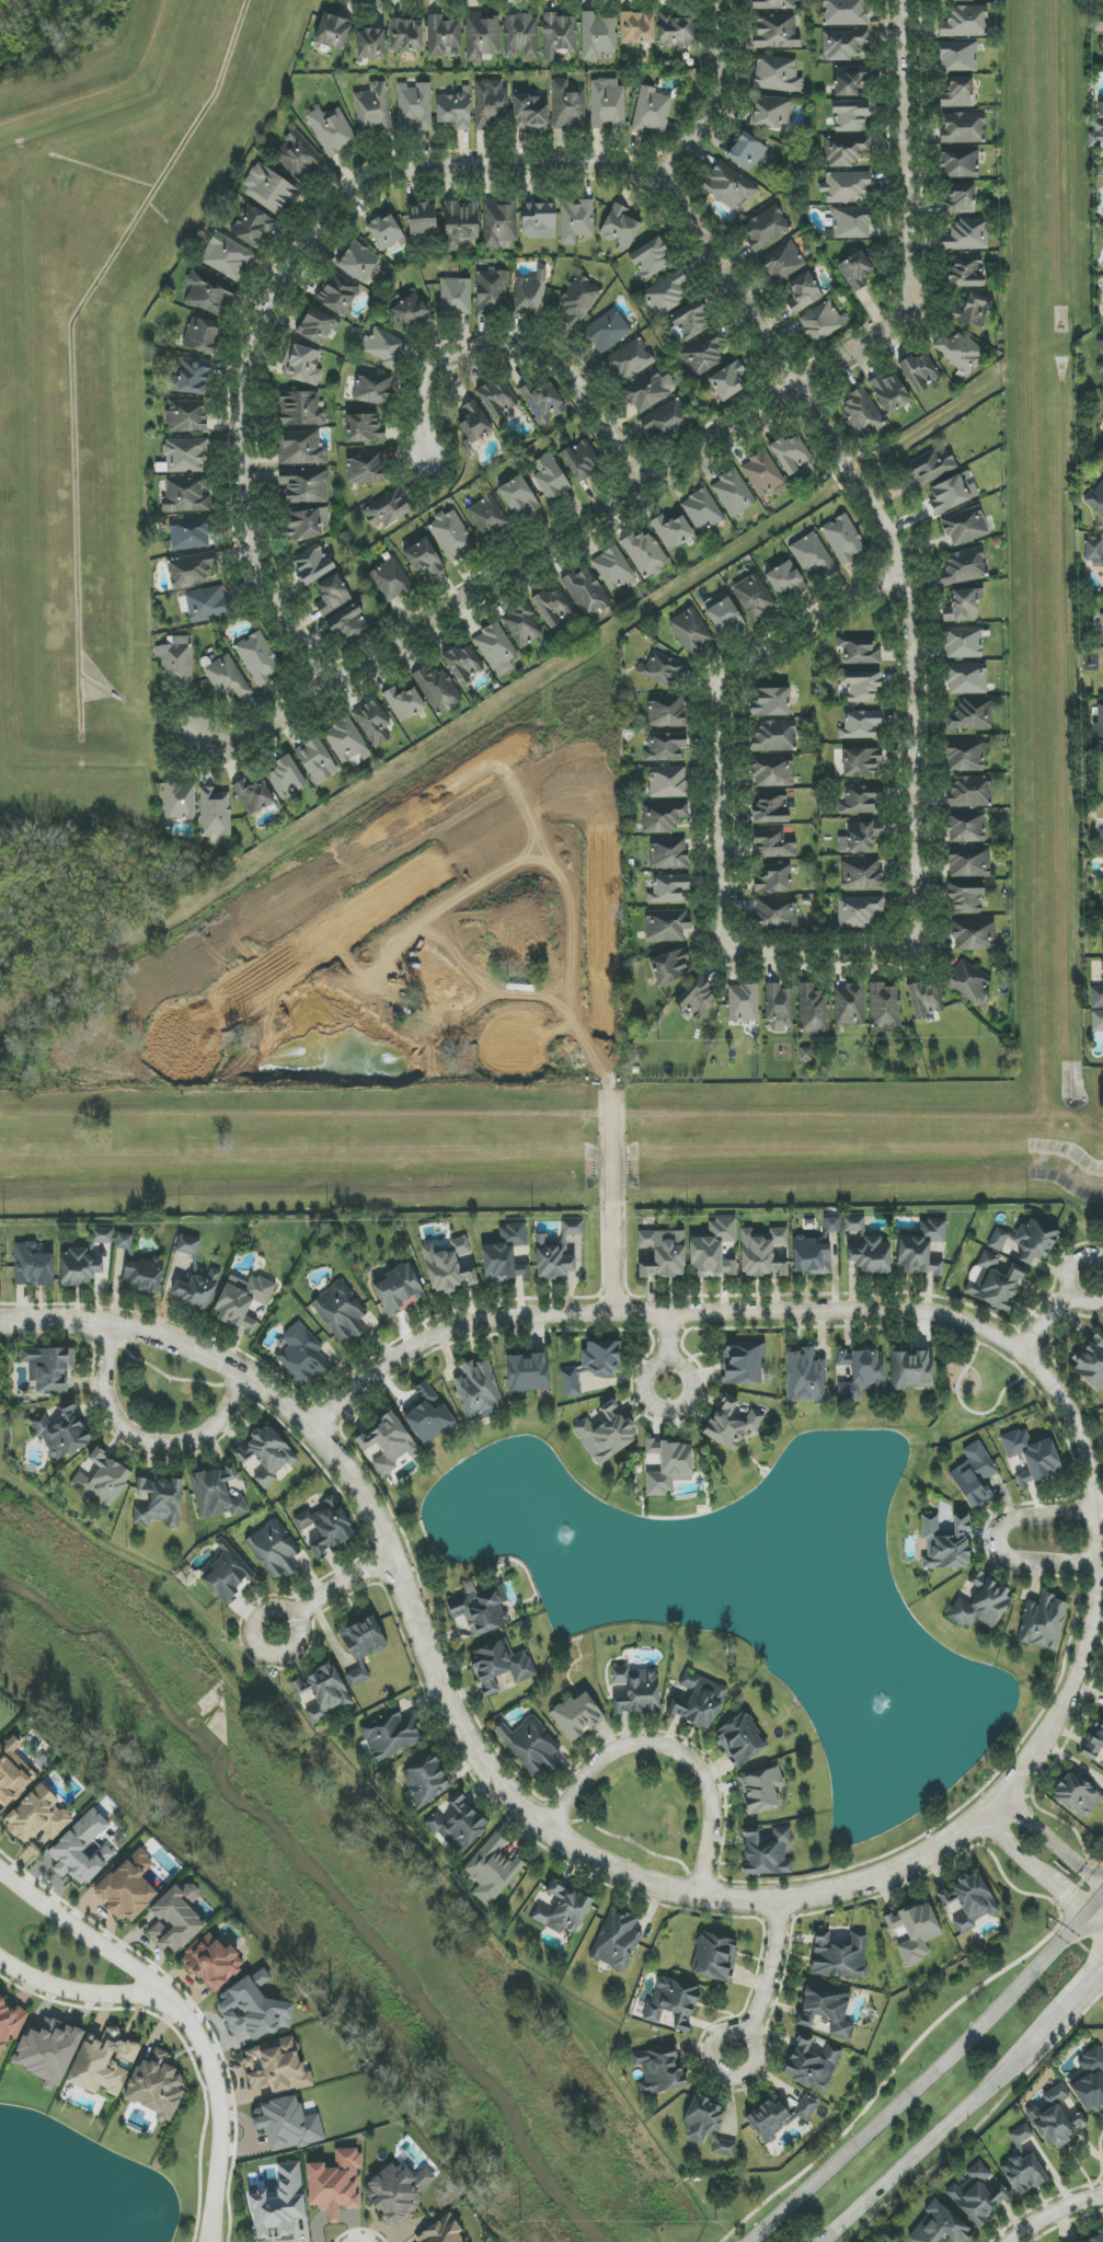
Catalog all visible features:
building: (958, 0)
building: (774, 4)
building: (845, 12)
building: (965, 22)
building: (636, 28)
building: (333, 31)
building: (675, 31)
building: (775, 31)
building: (406, 35)
building: (559, 35)
building: (444, 36)
building: (482, 36)
building: (521, 36)
building: (597, 36)
building: (370, 44)
building: (845, 44)
building: (958, 56)
building: (777, 74)
building: (849, 79)
building: (958, 93)
building: (607, 103)
building: (491, 104)
building: (567, 105)
building: (415, 106)
building: (374, 108)
building: (455, 110)
road: (723, 110)
building: (1100, 110)
building: (530, 112)
building: (651, 112)
building: (771, 112)
building: (850, 115)
building: (963, 127)
building: (332, 130)
building: (1096, 134)
building: (846, 150)
building: (746, 151)
building: (296, 159)
building: (961, 162)
road: (474, 184)
building: (729, 186)
building: (846, 186)
building: (269, 189)
building: (960, 199)
building: (422, 219)
building: (537, 219)
building: (576, 221)
building: (849, 222)
building: (498, 223)
building: (252, 225)
building: (461, 225)
building: (619, 227)
building: (766, 228)
building: (386, 233)
building: (967, 234)
building: (228, 256)
building: (651, 257)
building: (783, 261)
building: (358, 262)
building: (857, 268)
building: (966, 272)
building: (492, 291)
building: (803, 292)
building: (337, 294)
building: (530, 294)
building: (666, 294)
building: (456, 296)
building: (208, 297)
building: (577, 300)
building: (409, 310)
building: (972, 311)
building: (691, 321)
building: (820, 322)
building: (315, 327)
building: (608, 331)
building: (200, 335)
road: (528, 345)
building: (383, 346)
building: (704, 353)
building: (961, 353)
building: (1100, 353)
building: (630, 360)
building: (302, 365)
building: (921, 370)
building: (192, 377)
building: (728, 380)
building: (374, 389)
building: (650, 390)
building: (889, 392)
building: (496, 399)
building: (543, 402)
building: (301, 410)
building: (861, 413)
building: (186, 416)
building: (474, 422)
building: (667, 422)
building: (364, 428)
building: (302, 448)
building: (791, 453)
building: (185, 455)
road: (680, 460)
building: (578, 461)
building: (932, 467)
building: (365, 468)
building: (763, 475)
building: (550, 478)
building: (305, 485)
building: (733, 493)
building: (953, 493)
building: (185, 495)
building: (518, 496)
building: (1096, 498)
building: (386, 509)
building: (703, 510)
building: (487, 517)
building: (306, 524)
building: (965, 526)
building: (673, 531)
building: (189, 533)
building: (452, 536)
building: (843, 539)
building: (1094, 552)
building: (646, 554)
building: (423, 556)
building: (814, 556)
building: (312, 564)
building: (964, 567)
building: (613, 568)
building: (191, 570)
building: (785, 579)
building: (391, 580)
building: (586, 591)
building: (332, 595)
building: (752, 598)
building: (206, 603)
building: (963, 605)
building: (551, 606)
building: (1102, 614)
building: (724, 617)
building: (348, 624)
building: (521, 626)
building: (691, 633)
building: (963, 642)
building: (496, 648)
building: (859, 651)
building: (258, 658)
building: (176, 662)
building: (462, 664)
building: (665, 669)
building: (227, 678)
building: (966, 679)
building: (862, 686)
building: (438, 690)
building: (771, 702)
building: (404, 703)
building: (666, 711)
road: (716, 713)
building: (970, 715)
building: (374, 723)
building: (860, 724)
building: (1099, 725)
building: (774, 736)
building: (347, 741)
building: (666, 747)
building: (966, 755)
building: (317, 760)
building: (861, 761)
building: (772, 771)
building: (286, 777)
building: (668, 782)
building: (970, 791)
building: (253, 796)
building: (860, 798)
building: (179, 803)
building: (772, 807)
building: (215, 812)
building: (663, 816)
building: (966, 826)
building: (860, 837)
building: (773, 843)
building: (669, 853)
road: (916, 858)
building: (969, 862)
building: (861, 873)
building: (774, 878)
building: (669, 888)
building: (859, 910)
building: (777, 913)
building: (1101, 916)
building: (666, 925)
building: (974, 935)
building: (1102, 946)
building: (669, 967)
building: (966, 982)
building: (1098, 994)
building: (698, 998)
building: (926, 1001)
building: (744, 1003)
building: (779, 1005)
building: (850, 1005)
building: (884, 1007)
building: (813, 1010)
building: (1096, 1020)
building: (805, 1054)
road: (612, 1203)
building: (572, 1228)
building: (102, 1235)
building: (124, 1241)
building: (998, 1241)
building: (1035, 1241)
building: (921, 1248)
building: (868, 1249)
building: (713, 1250)
building: (817, 1251)
building: (663, 1253)
building: (762, 1253)
building: (505, 1254)
building: (553, 1260)
building: (33, 1266)
building: (448, 1266)
building: (79, 1267)
building: (142, 1275)
building: (195, 1279)
building: (995, 1280)
building: (398, 1288)
building: (242, 1301)
road: (749, 1311)
road: (1058, 1311)
building: (338, 1312)
road: (927, 1325)
road: (669, 1349)
building: (300, 1354)
building: (1091, 1361)
building: (742, 1363)
building: (591, 1365)
building: (48, 1368)
building: (911, 1370)
building: (862, 1372)
building: (528, 1373)
building: (805, 1377)
building: (478, 1390)
road: (967, 1409)
building: (429, 1417)
building: (732, 1423)
building: (606, 1434)
road: (133, 1441)
building: (387, 1444)
building: (266, 1455)
building: (1031, 1456)
building: (669, 1467)
building: (975, 1475)
building: (102, 1481)
building: (218, 1493)
building: (160, 1503)
road: (1099, 1510)
building: (326, 1526)
road: (997, 1541)
building: (945, 1543)
building: (273, 1550)
fountain: (582, 1562)
building: (226, 1578)
road: (336, 1589)
building: (981, 1605)
building: (480, 1611)
building: (1043, 1622)
building: (361, 1645)
building: (499, 1666)
building: (324, 1691)
building: (636, 1691)
building: (697, 1700)
fountain: (893, 1712)
building: (576, 1715)
building: (390, 1735)
building: (739, 1739)
building: (1094, 1740)
road: (674, 1748)
building: (12, 1772)
building: (425, 1780)
building: (761, 1791)
building: (1077, 1795)
building: (38, 1817)
building: (458, 1824)
road: (542, 1826)
road: (1056, 1839)
road: (632, 1841)
building: (81, 1850)
building: (766, 1850)
road: (1035, 1867)
building: (492, 1870)
building: (127, 1887)
traffic signals: (1062, 1895)
building: (970, 1899)
road: (1094, 1908)
building: (563, 1909)
road: (1094, 1924)
building: (915, 1931)
building: (616, 1942)
road: (1077, 1954)
building: (839, 1955)
building: (714, 1957)
building: (212, 1962)
traffic signals: (1099, 1970)
road: (768, 1981)
road: (151, 1984)
road: (1082, 1988)
building: (673, 2003)
building: (827, 2008)
building: (254, 2009)
building: (10, 2023)
building: (47, 2051)
road: (907, 2055)
building: (812, 2062)
building: (102, 2063)
building: (276, 2067)
building: (658, 2070)
building: (1090, 2081)
road: (923, 2083)
building: (156, 2085)
road: (220, 2111)
building: (777, 2116)
building: (1057, 2118)
building: (287, 2124)
building: (706, 2125)
road: (944, 2127)
building: (1023, 2164)
building: (336, 2183)
building: (398, 2193)
building: (978, 2194)
building: (279, 2203)
road: (1055, 2212)
building: (939, 2227)
building: (441, 2231)
building: (1093, 2239)

